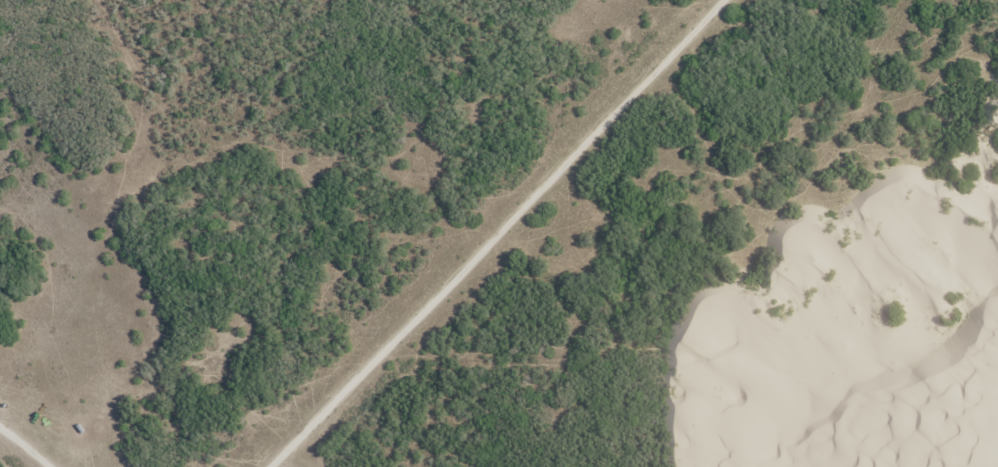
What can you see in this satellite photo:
road: (477, 243)
road: (696, 367)
road: (34, 440)

